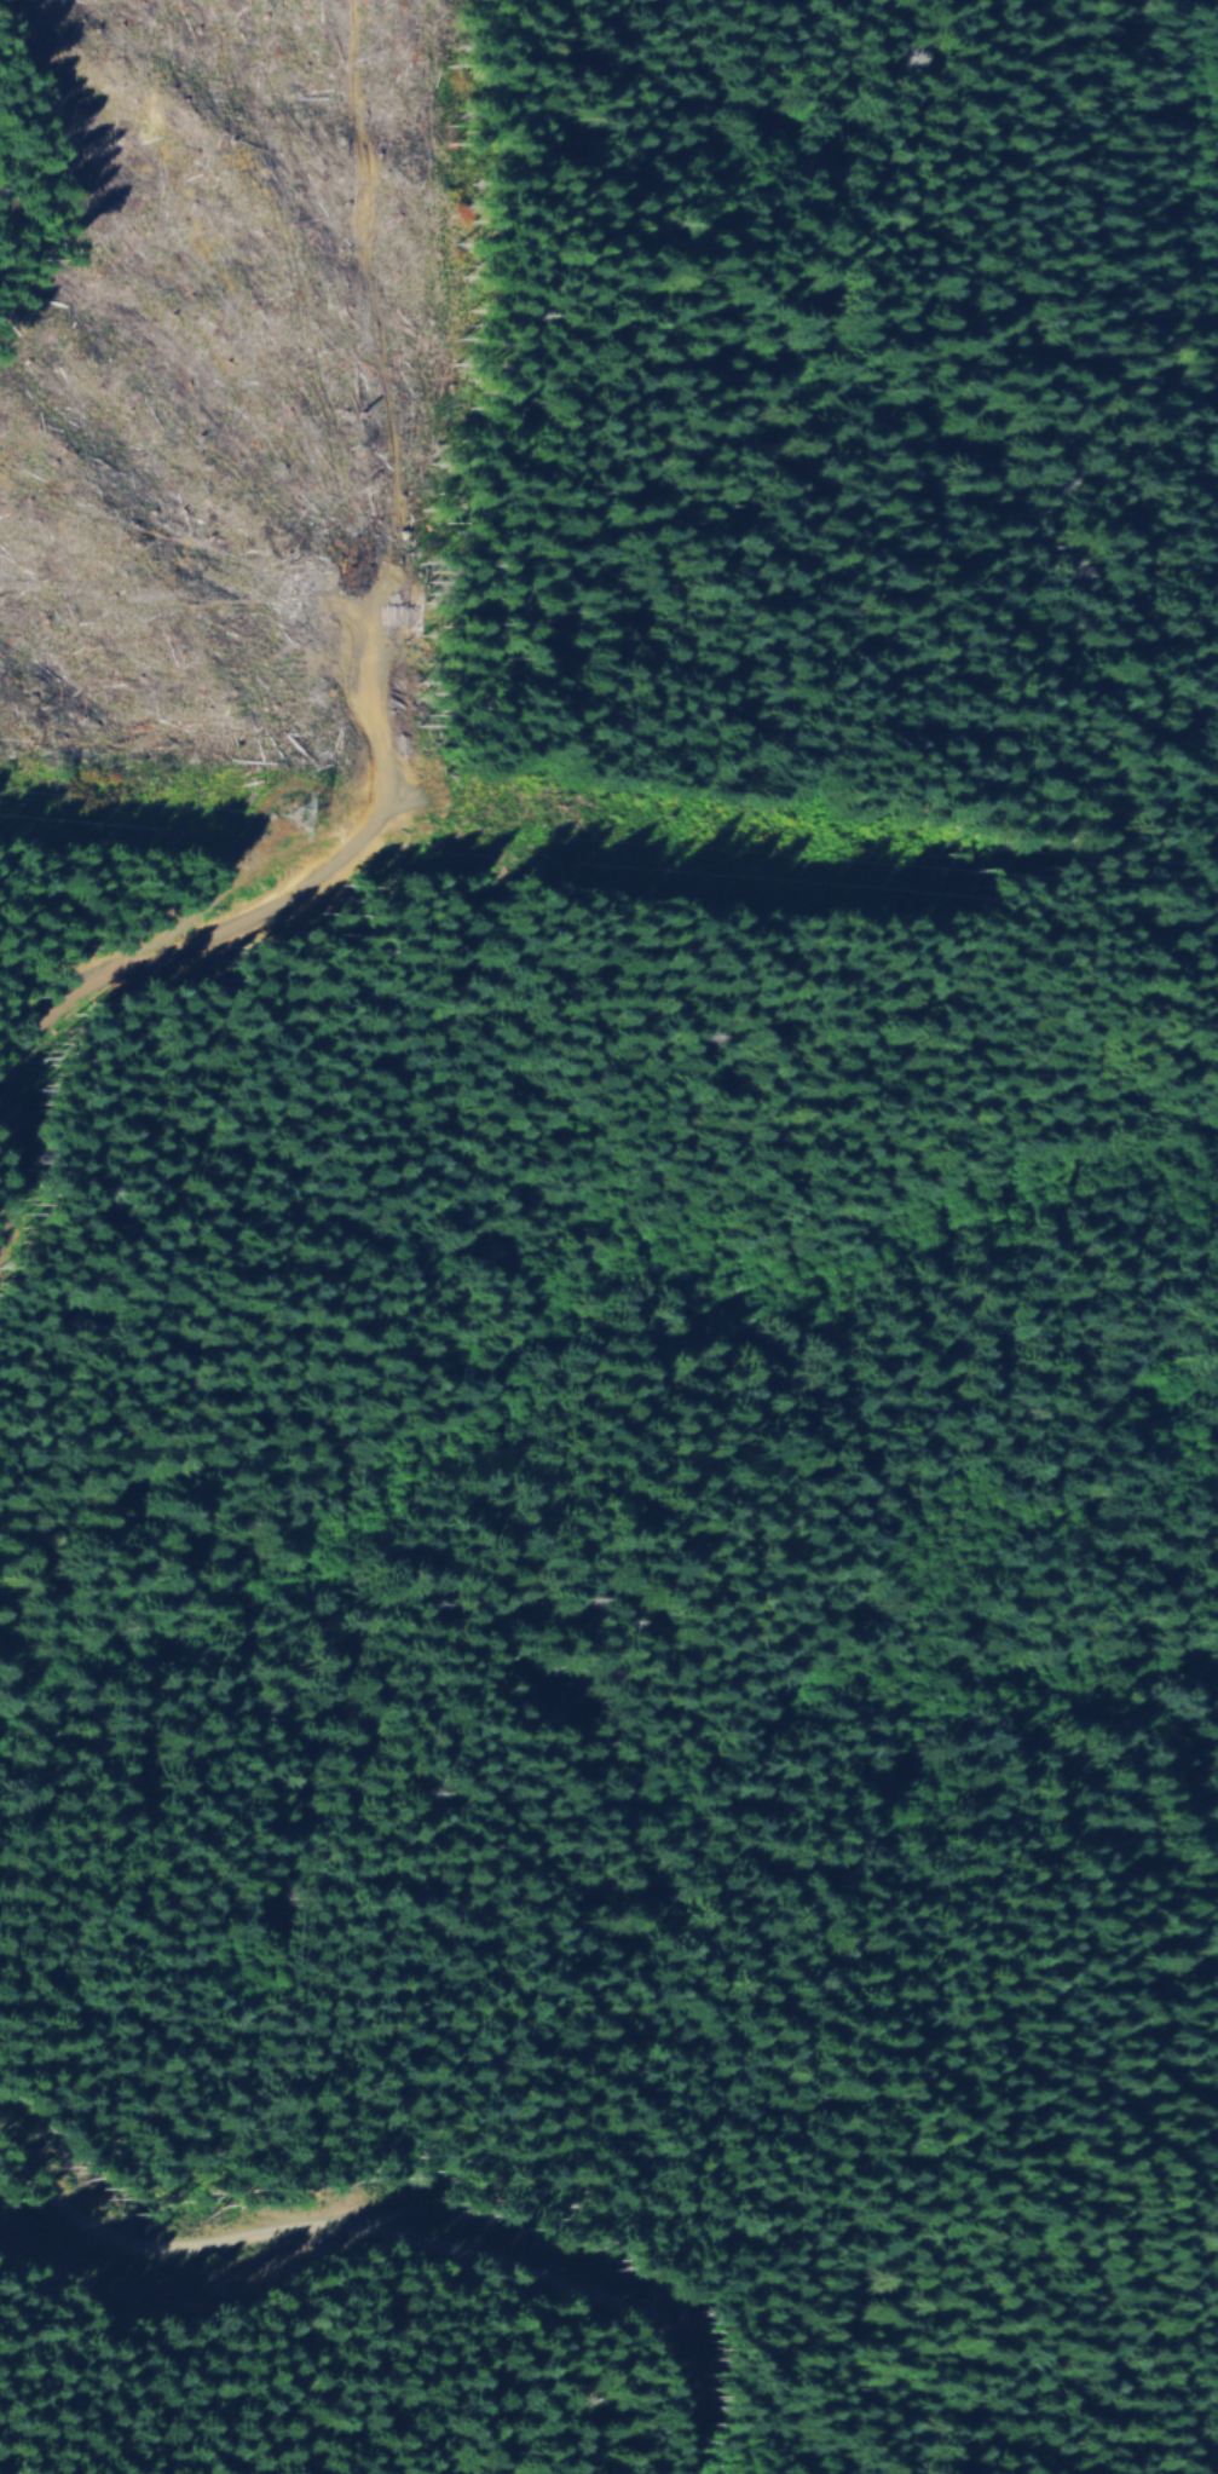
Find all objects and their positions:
power tower: (298, 817)
road: (47, 982)
road: (254, 2370)

